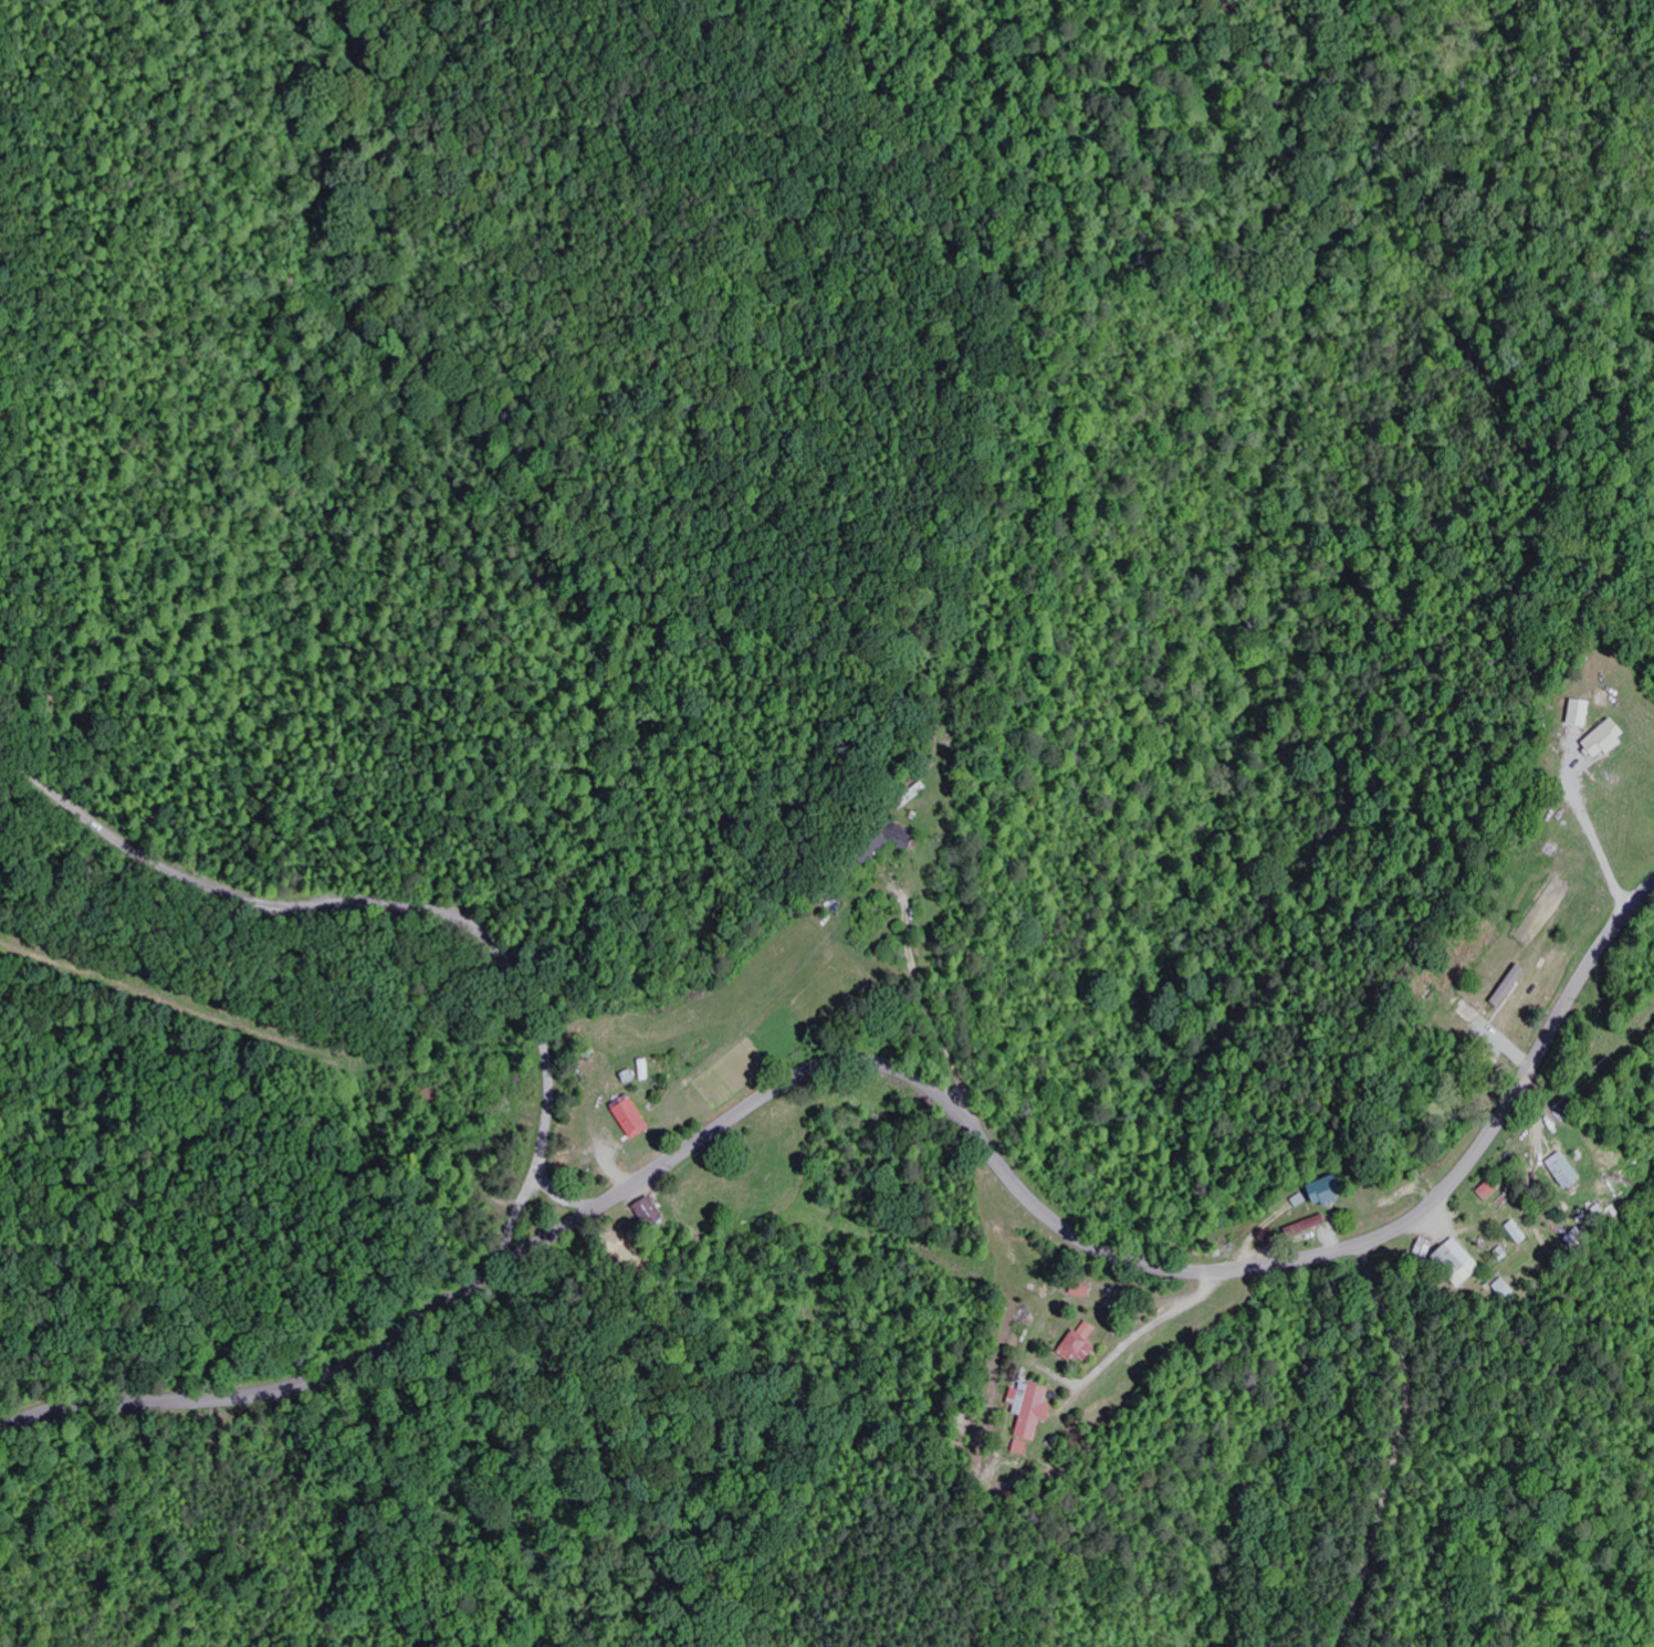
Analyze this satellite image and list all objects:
building: (1576, 714)
building: (1600, 739)
road: (401, 906)
road: (904, 1074)
building: (635, 1118)
building: (1561, 1171)
road: (1334, 1178)
building: (1486, 1192)
building: (1321, 1193)
road: (555, 1195)
building: (1299, 1200)
building: (656, 1214)
building: (1305, 1226)
building: (1452, 1262)
building: (1503, 1290)
road: (88, 1293)
building: (1084, 1344)
building: (1035, 1409)
road: (1399, 1445)
building: (1025, 1448)

